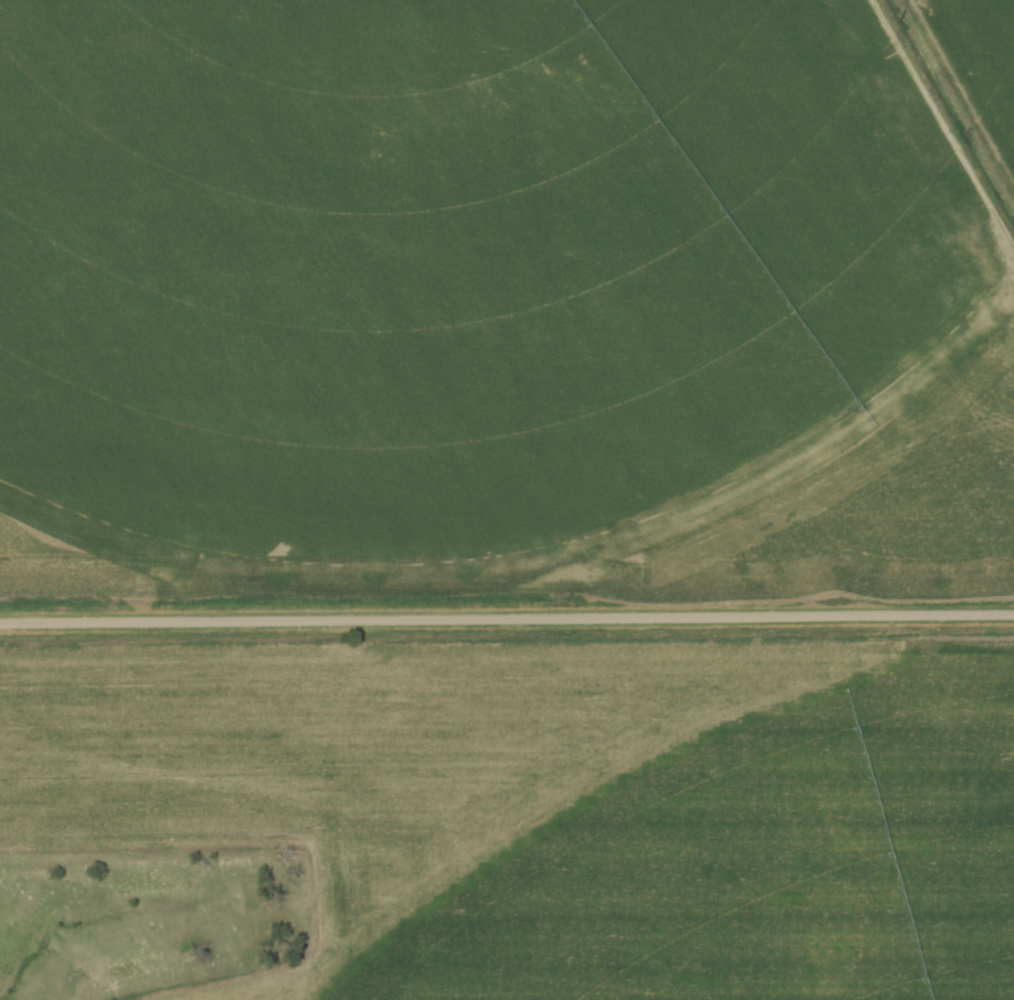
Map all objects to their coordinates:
crop: (475, 265)
road: (506, 616)

